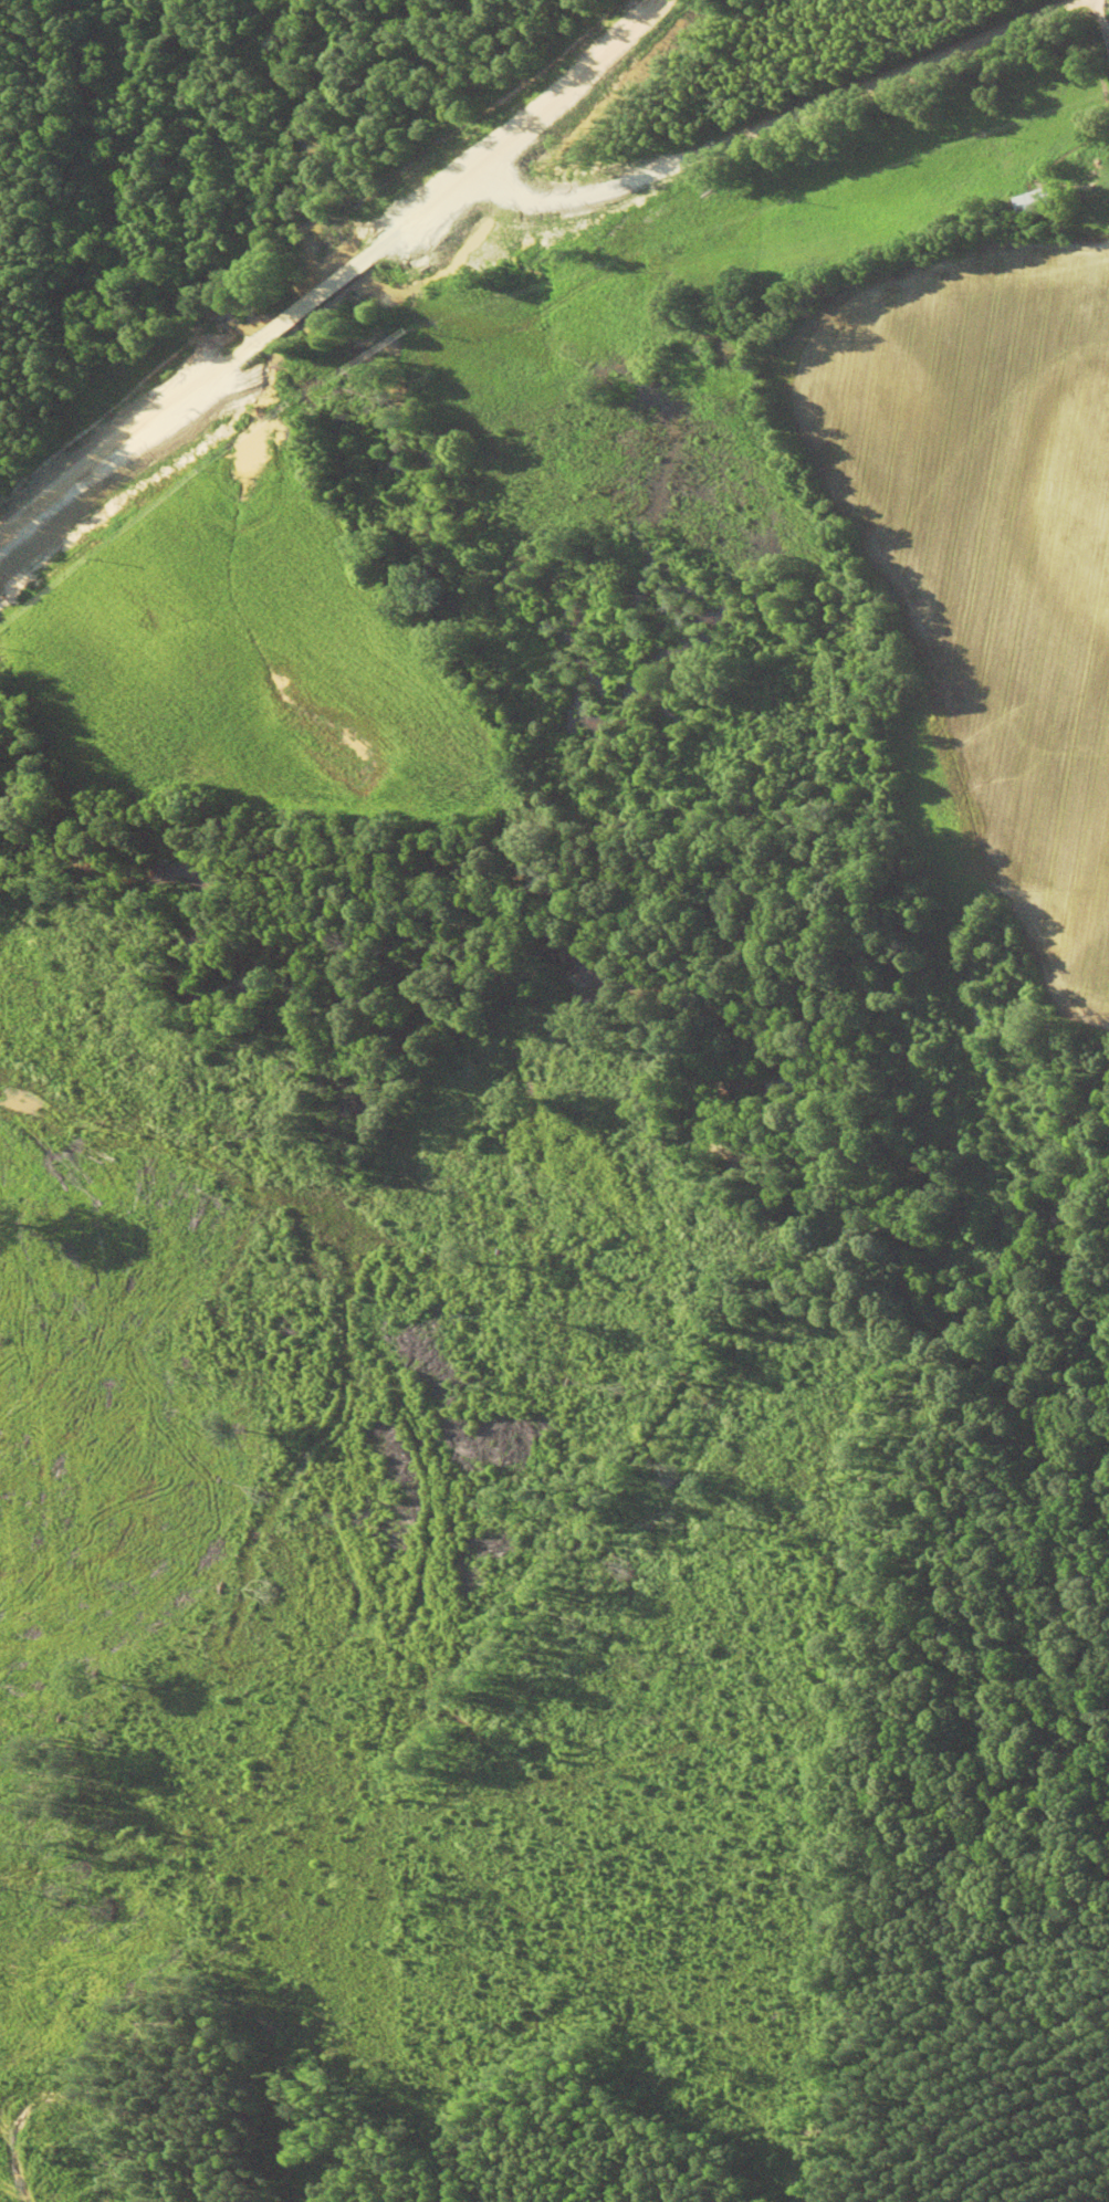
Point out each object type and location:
road: (731, 138)
building: (1033, 199)
road: (1039, 207)
road: (332, 284)

